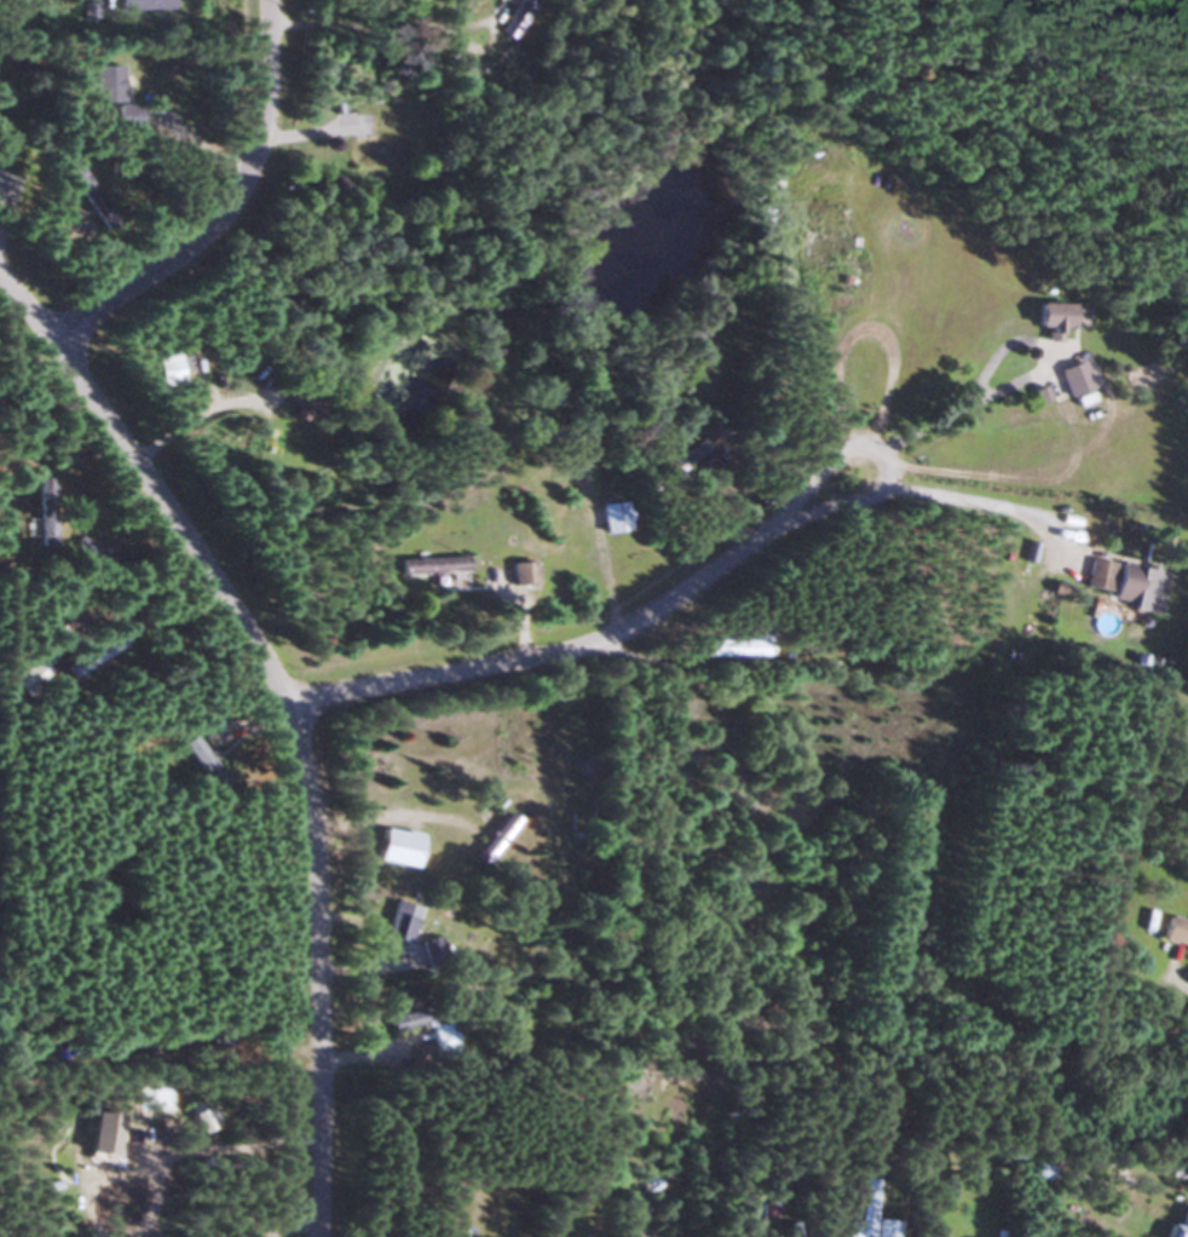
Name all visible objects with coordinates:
building: (143, 7)
building: (513, 18)
building: (102, 86)
building: (370, 143)
road: (220, 212)
building: (853, 300)
building: (1050, 320)
building: (1073, 379)
building: (299, 407)
road: (939, 409)
road: (186, 413)
building: (691, 453)
road: (815, 476)
road: (987, 502)
road: (834, 504)
building: (39, 512)
building: (611, 517)
building: (429, 565)
building: (520, 574)
building: (1125, 583)
road: (137, 616)
building: (733, 648)
building: (92, 652)
road: (536, 658)
building: (28, 675)
road: (282, 720)
building: (211, 727)
building: (192, 752)
road: (391, 813)
building: (491, 838)
building: (392, 847)
building: (396, 928)
building: (1175, 932)
building: (432, 948)
road: (1182, 979)
building: (439, 1037)
road: (190, 1141)
building: (866, 1207)
building: (1180, 1225)

